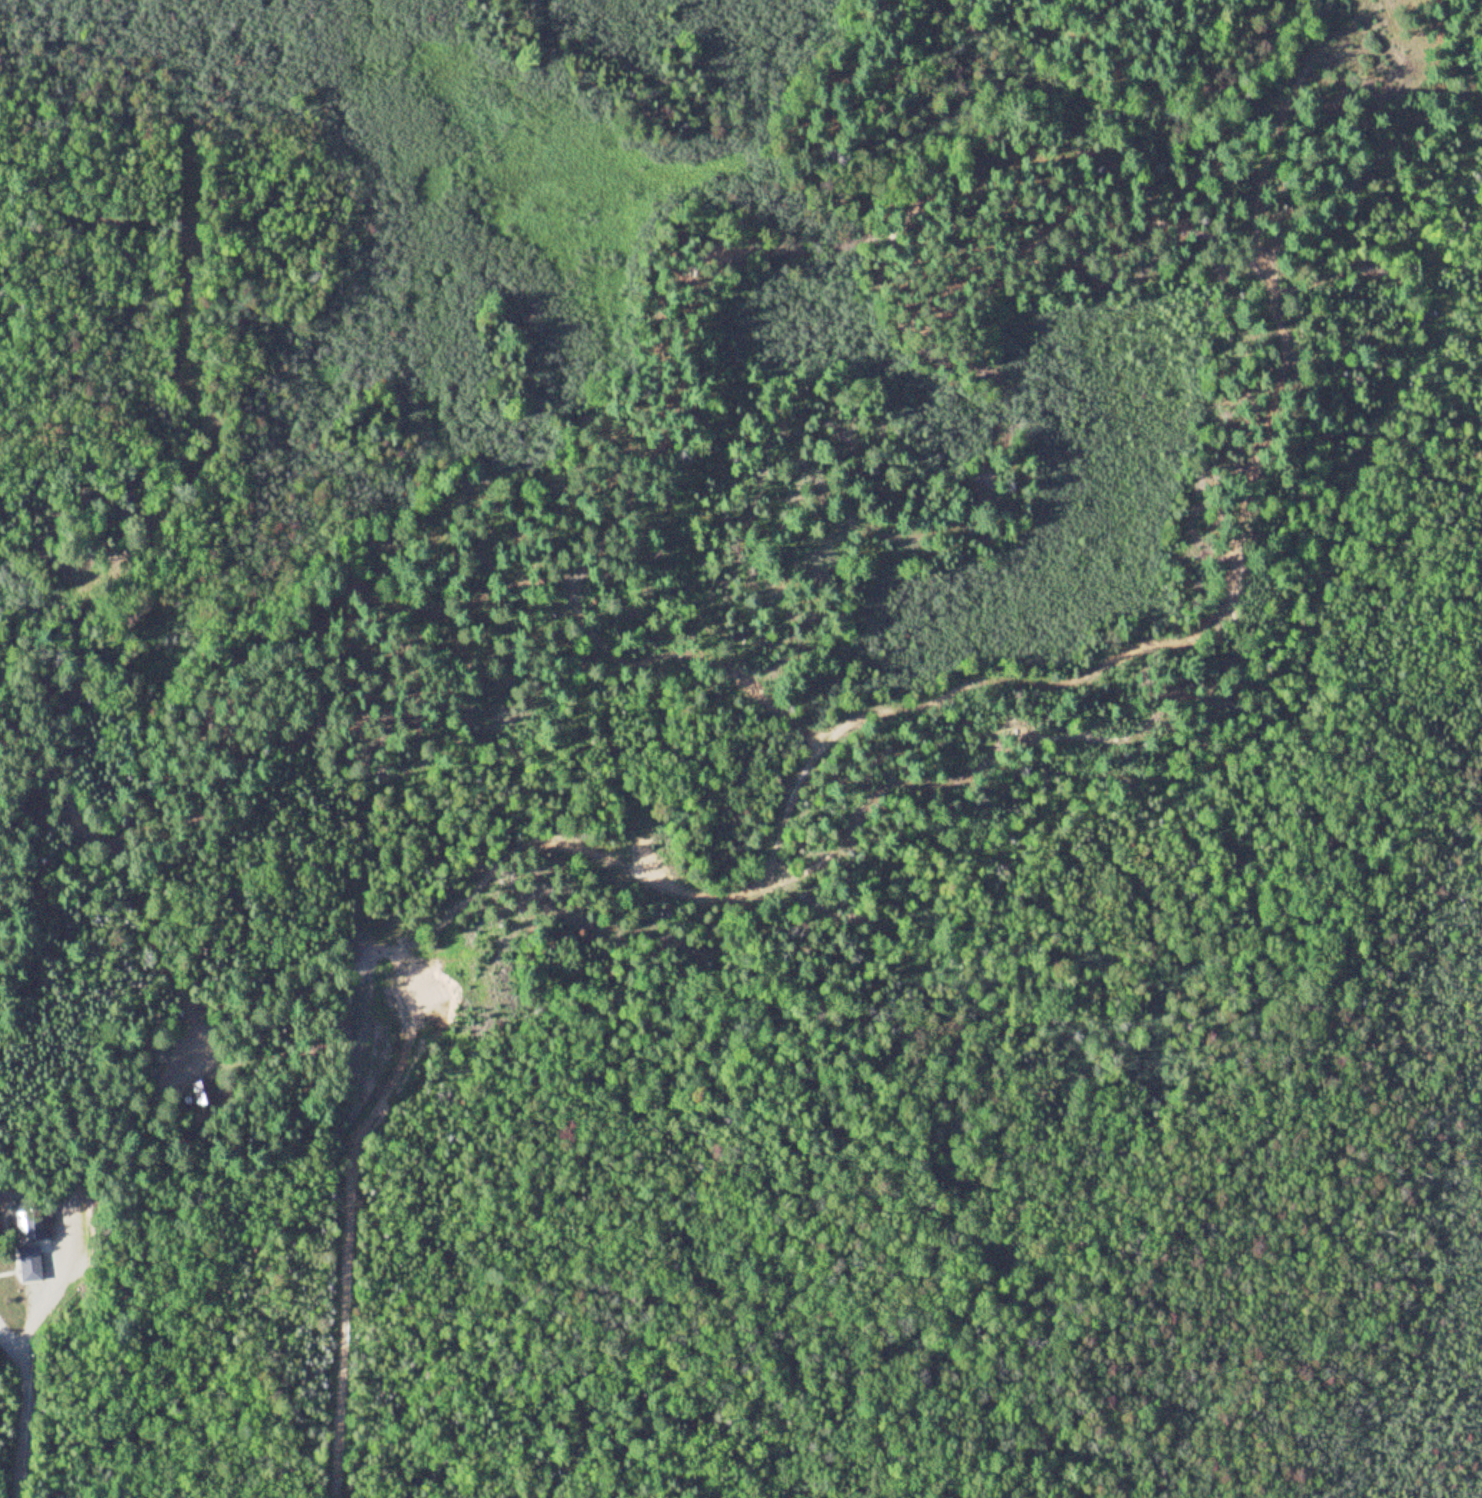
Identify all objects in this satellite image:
building: (22, 1226)
building: (30, 1266)
road: (17, 1416)

